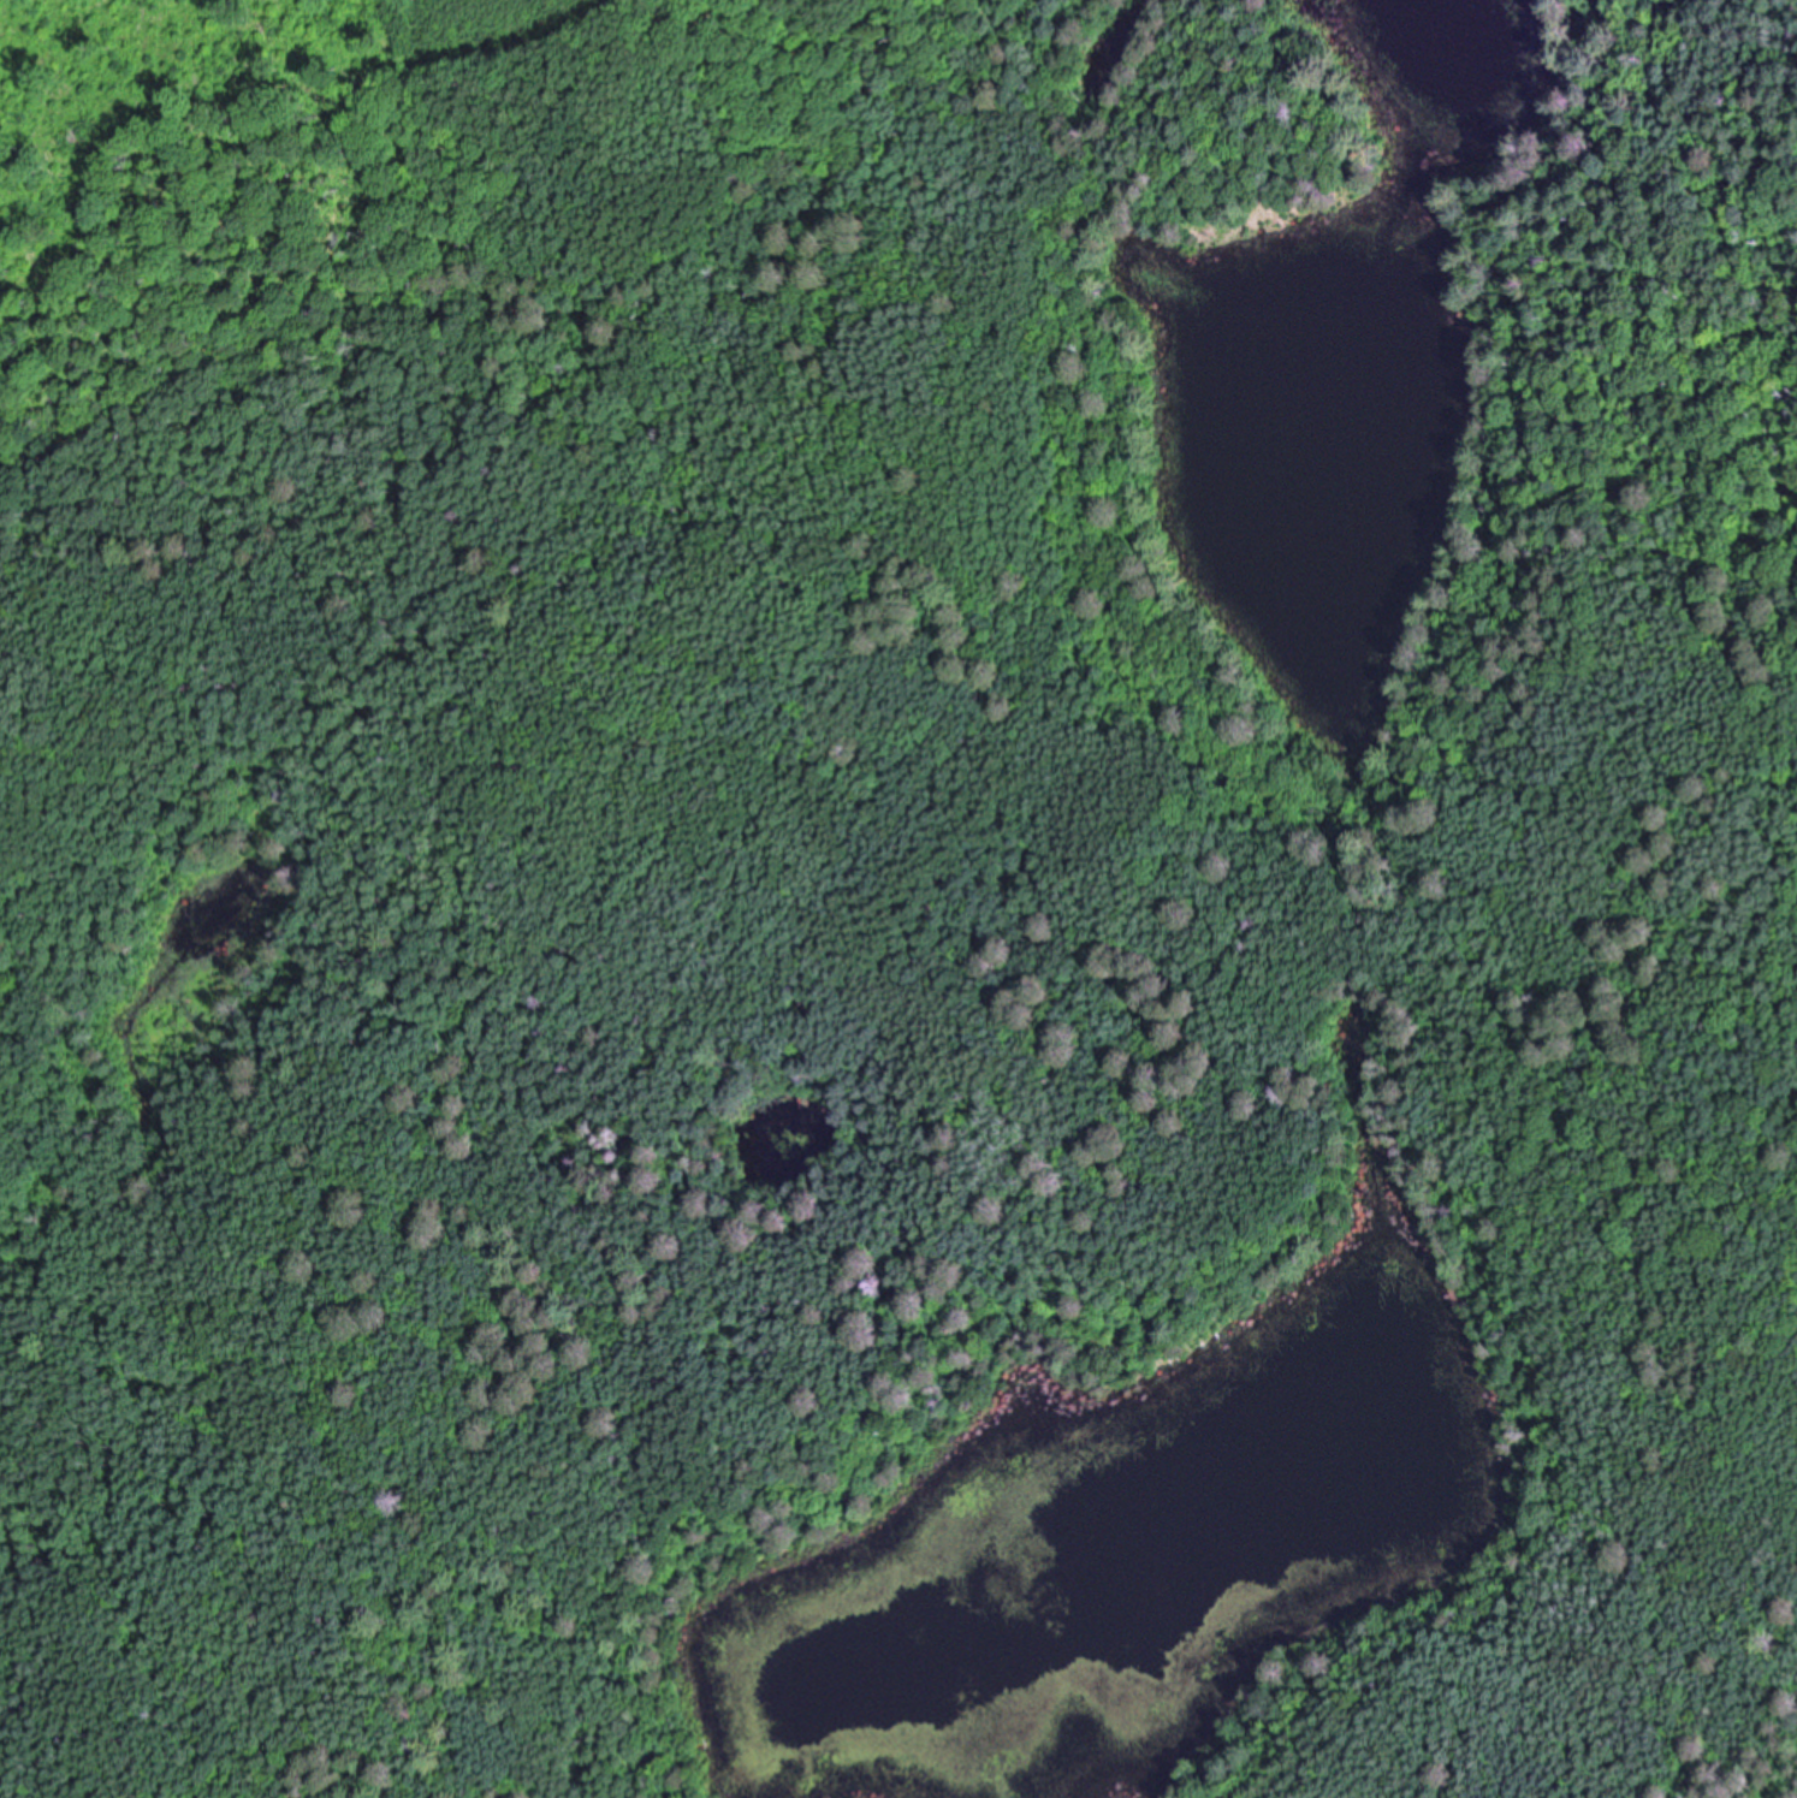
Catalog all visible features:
road: (568, 318)

